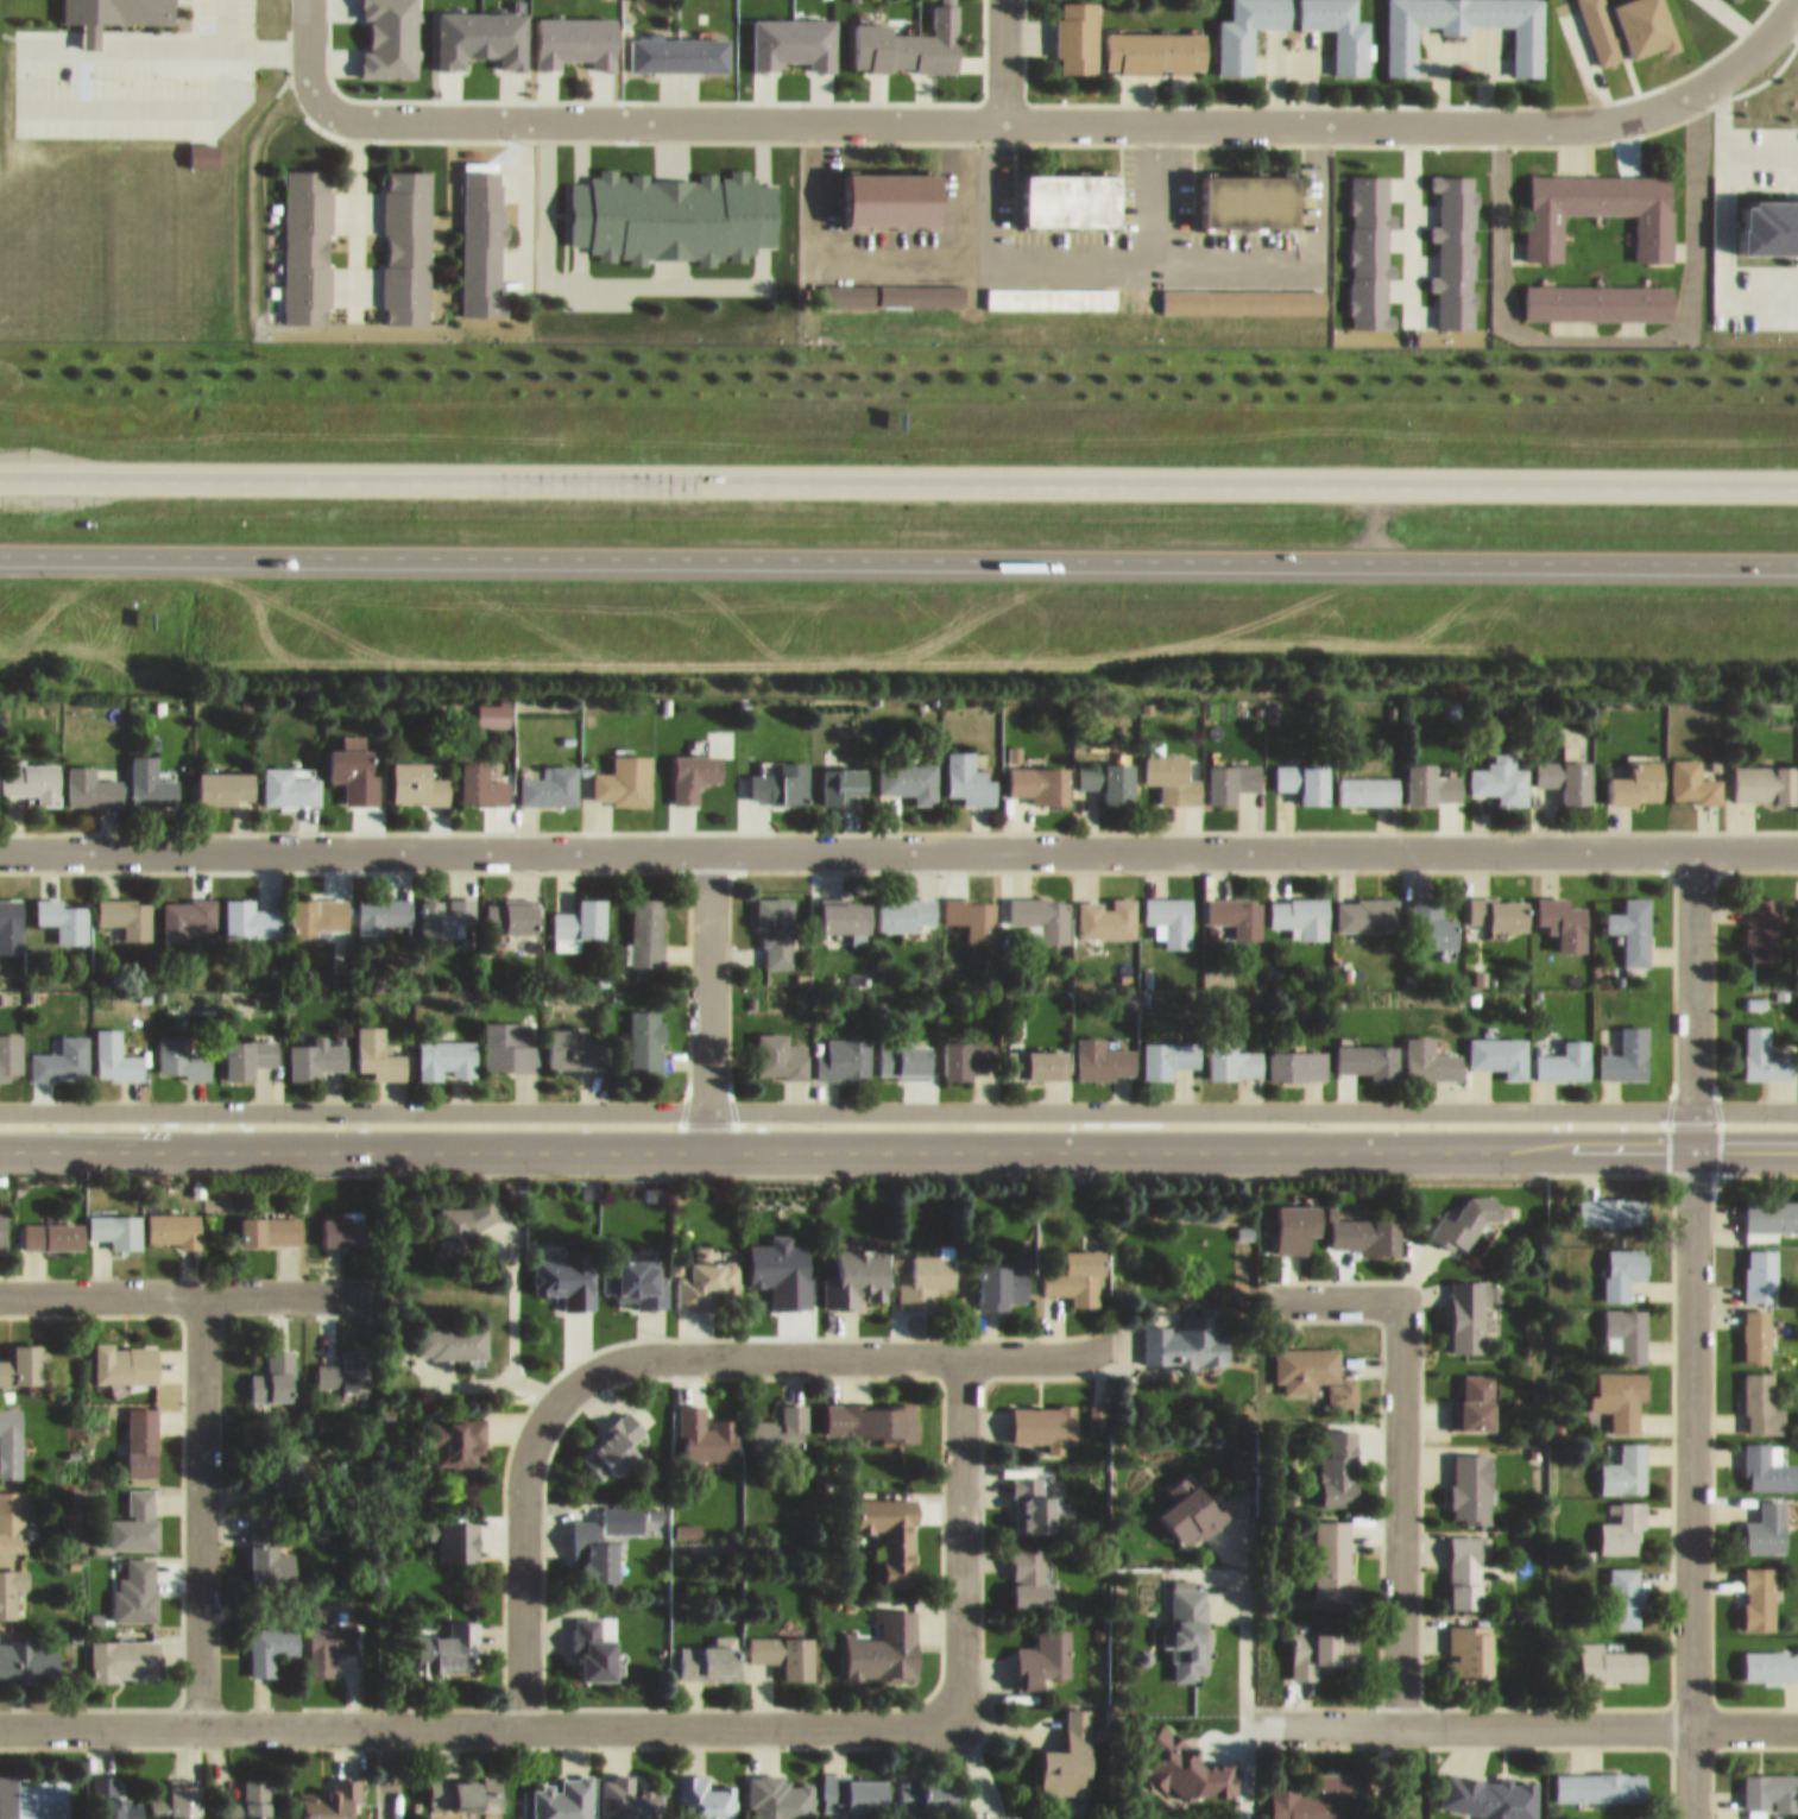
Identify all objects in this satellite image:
building: (111, 10)
road: (220, 19)
building: (1626, 23)
building: (478, 25)
building: (1238, 27)
building: (1338, 27)
building: (572, 29)
building: (1073, 30)
building: (790, 31)
building: (391, 32)
building: (903, 32)
road: (263, 39)
building: (1152, 39)
building: (675, 43)
building: (1528, 43)
road: (1001, 55)
road: (305, 59)
parking lot: (131, 67)
road: (1692, 80)
road: (29, 96)
road: (954, 109)
road: (973, 181)
road: (1154, 182)
building: (885, 187)
building: (1065, 189)
building: (1244, 190)
building: (1595, 200)
building: (671, 203)
building: (481, 229)
building: (305, 233)
building: (405, 233)
building: (1452, 240)
building: (1369, 241)
road: (1064, 251)
building: (846, 282)
building: (920, 283)
building: (1051, 286)
building: (1239, 290)
building: (1594, 291)
road: (1608, 328)
road: (898, 470)
road: (898, 545)
building: (492, 703)
building: (354, 762)
building: (694, 763)
building: (1173, 766)
building: (1566, 766)
building: (970, 768)
building: (909, 769)
building: (1110, 769)
building: (1305, 769)
building: (1500, 769)
building: (32, 770)
building: (778, 770)
building: (1229, 770)
building: (844, 771)
building: (1693, 771)
building: (150, 772)
building: (418, 772)
building: (480, 772)
building: (1039, 772)
building: (1640, 772)
building: (1766, 772)
building: (290, 773)
building: (1432, 773)
building: (550, 775)
building: (90, 776)
building: (226, 776)
building: (622, 776)
building: (1368, 778)
road: (898, 840)
building: (1500, 901)
building: (845, 903)
building: (907, 903)
building: (1368, 903)
building: (126, 904)
building: (184, 904)
building: (317, 904)
building: (379, 904)
building: (972, 904)
building: (1236, 904)
building: (444, 905)
building: (511, 905)
building: (1040, 905)
building: (1300, 905)
building: (250, 907)
building: (1108, 907)
building: (63, 908)
building: (1171, 908)
building: (1565, 910)
building: (579, 911)
building: (11, 914)
building: (1432, 914)
building: (1633, 916)
building: (1762, 917)
building: (646, 920)
building: (776, 920)
road: (706, 989)
road: (1691, 989)
building: (646, 1030)
building: (509, 1036)
building: (574, 1041)
building: (379, 1043)
building: (1501, 1043)
building: (1762, 1043)
building: (10, 1044)
building: (1626, 1044)
building: (115, 1046)
building: (248, 1046)
building: (780, 1046)
building: (1169, 1046)
building: (967, 1047)
building: (1104, 1047)
building: (62, 1048)
building: (181, 1048)
building: (447, 1048)
building: (845, 1048)
building: (1234, 1048)
building: (1369, 1048)
building: (1430, 1048)
building: (315, 1049)
building: (1564, 1049)
building: (904, 1050)
building: (1037, 1051)
building: (1298, 1051)
road: (898, 1099)
road: (898, 1138)
building: (1611, 1200)
building: (1769, 1207)
building: (1469, 1208)
building: (1298, 1215)
building: (2, 1217)
building: (175, 1217)
building: (116, 1218)
building: (271, 1219)
building: (343, 1219)
building: (53, 1224)
building: (1365, 1224)
building: (1623, 1261)
building: (1760, 1263)
building: (567, 1267)
building: (857, 1267)
building: (1078, 1267)
building: (635, 1268)
building: (707, 1269)
building: (927, 1269)
building: (1001, 1274)
road: (178, 1286)
building: (1469, 1305)
building: (1624, 1324)
building: (1756, 1325)
building: (453, 1331)
building: (1187, 1331)
road: (801, 1346)
building: (126, 1351)
building: (21, 1353)
building: (346, 1360)
building: (1314, 1363)
building: (273, 1366)
building: (1620, 1388)
building: (1475, 1392)
building: (1761, 1394)
building: (871, 1409)
building: (1045, 1415)
building: (782, 1421)
building: (707, 1423)
building: (11, 1429)
building: (455, 1429)
building: (140, 1430)
building: (614, 1436)
road: (1400, 1439)
building: (1768, 1457)
building: (1340, 1458)
building: (280, 1459)
building: (1626, 1459)
building: (1471, 1477)
road: (1690, 1478)
building: (1034, 1490)
building: (1191, 1499)
road: (201, 1502)
building: (137, 1509)
road: (959, 1509)
building: (12, 1514)
building: (1766, 1517)
building: (1624, 1518)
building: (894, 1526)
building: (595, 1540)
building: (269, 1542)
building: (1335, 1550)
road: (521, 1554)
building: (1466, 1560)
building: (1030, 1568)
building: (11, 1579)
building: (137, 1579)
building: (1627, 1586)
building: (1759, 1586)
building: (1187, 1619)
building: (329, 1634)
building: (885, 1636)
building: (271, 1637)
building: (594, 1638)
building: (1471, 1638)
building: (450, 1640)
building: (1321, 1640)
building: (786, 1643)
building: (29, 1648)
building: (1042, 1648)
building: (125, 1649)
building: (709, 1650)
building: (1609, 1651)
building: (1771, 1654)
road: (1521, 1717)
road: (493, 1718)
building: (1070, 1745)
road: (385, 1768)
building: (1601, 1775)
building: (467, 1781)
building: (1769, 1781)
building: (854, 1782)
building: (929, 1786)
building: (32, 1788)
building: (1495, 1788)
building: (1310, 1789)
building: (780, 1790)
building: (706, 1792)
building: (177, 1793)
building: (113, 1794)
building: (332, 1794)
building: (561, 1794)
building: (627, 1794)
building: (250, 1796)
building: (1017, 1815)
building: (1624, 1817)
building: (1768, 1817)

